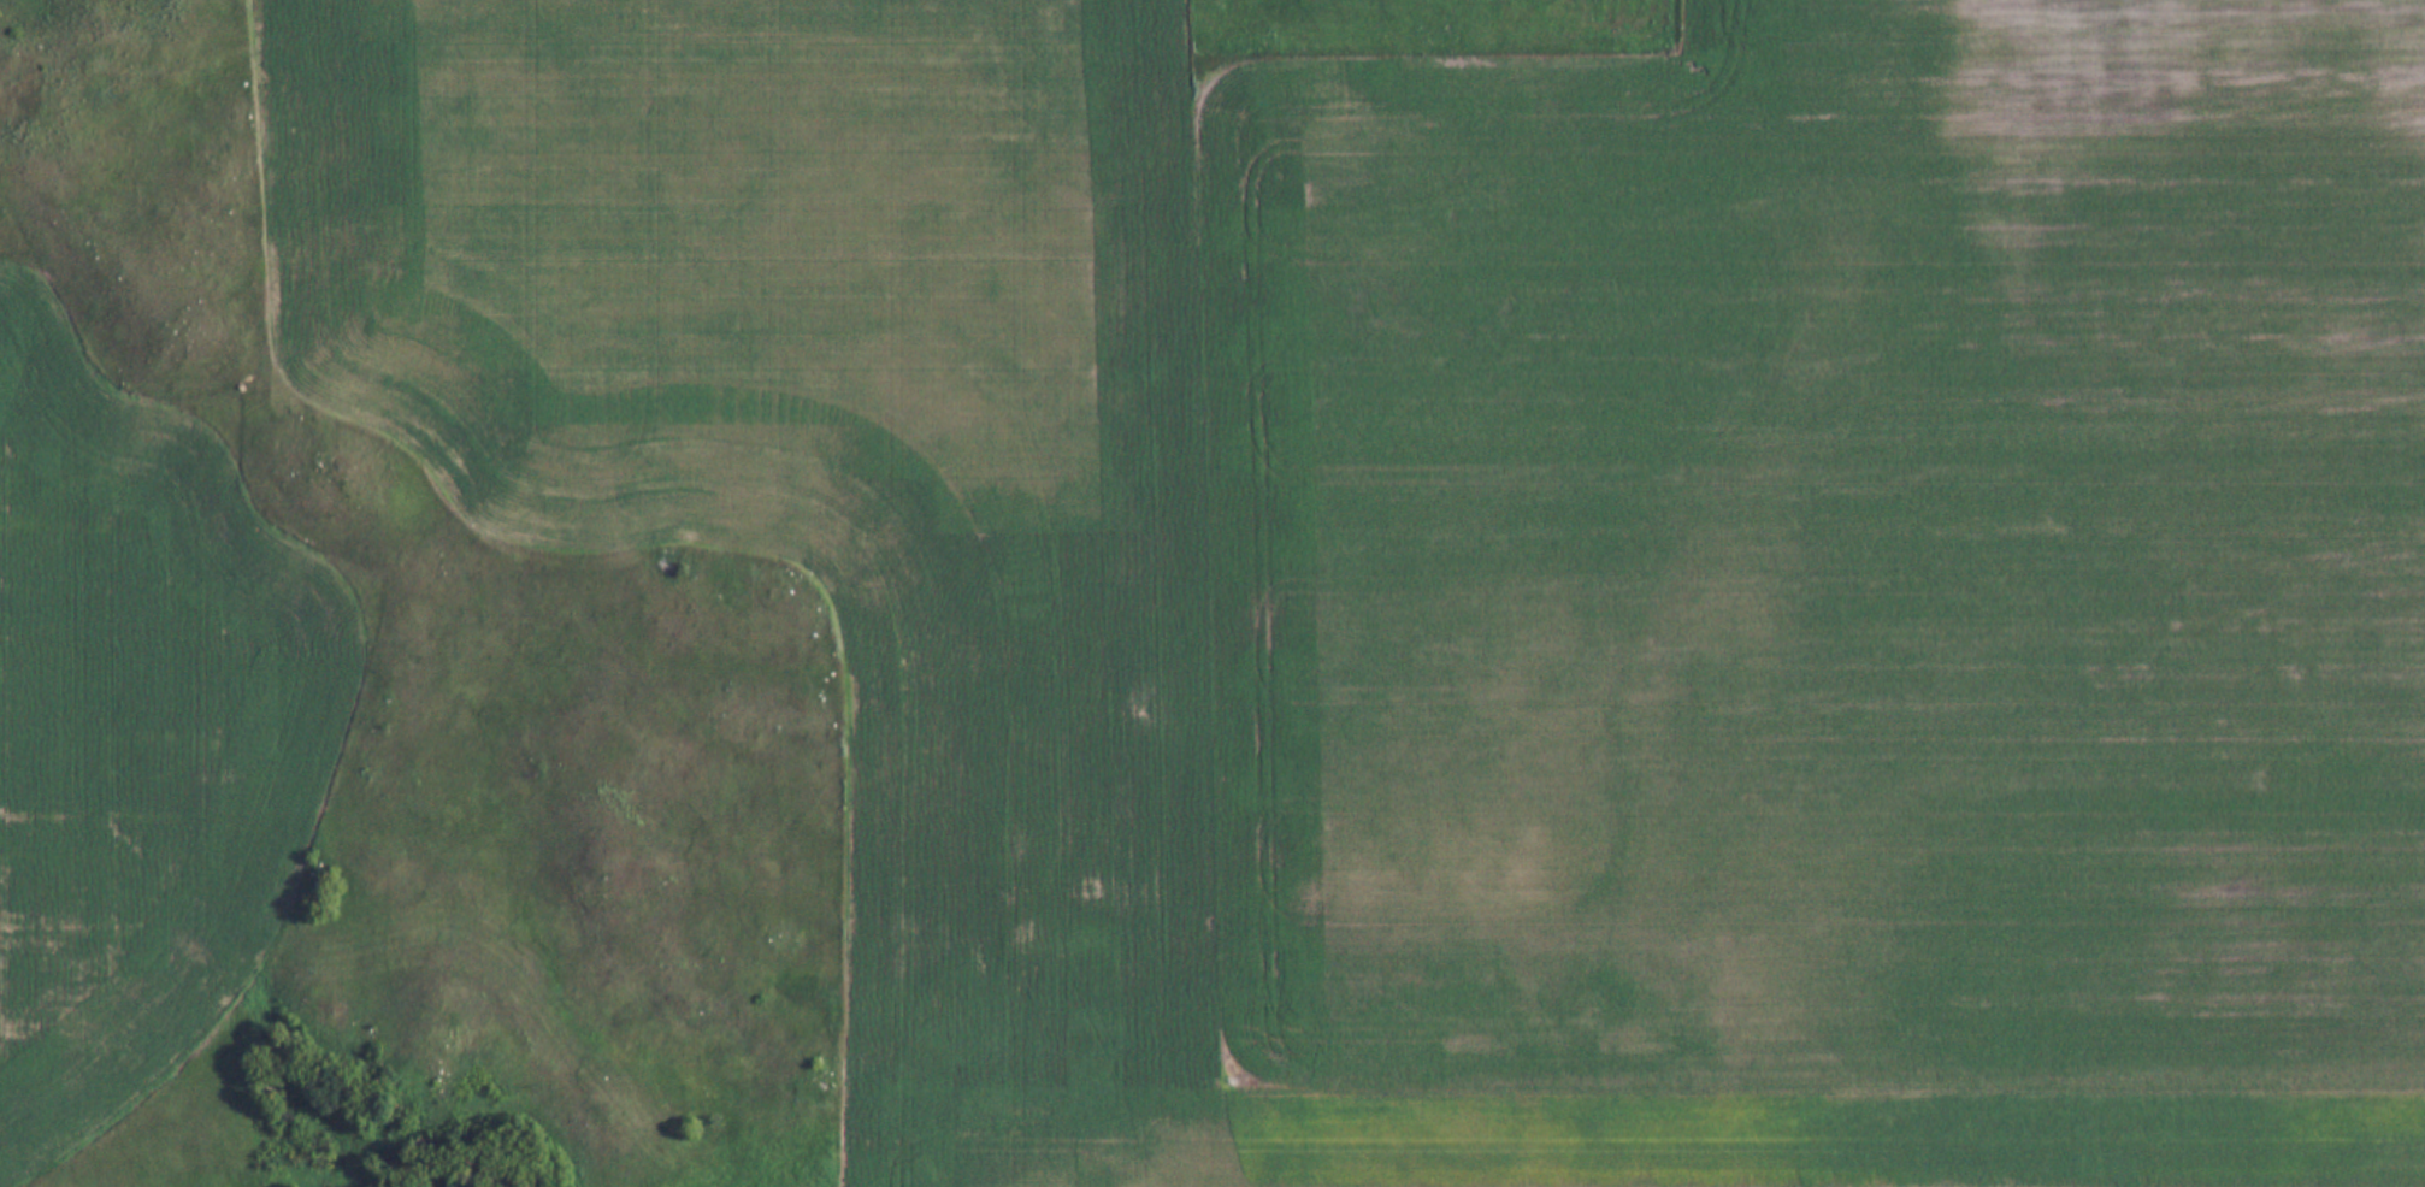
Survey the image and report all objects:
road: (837, 1168)

